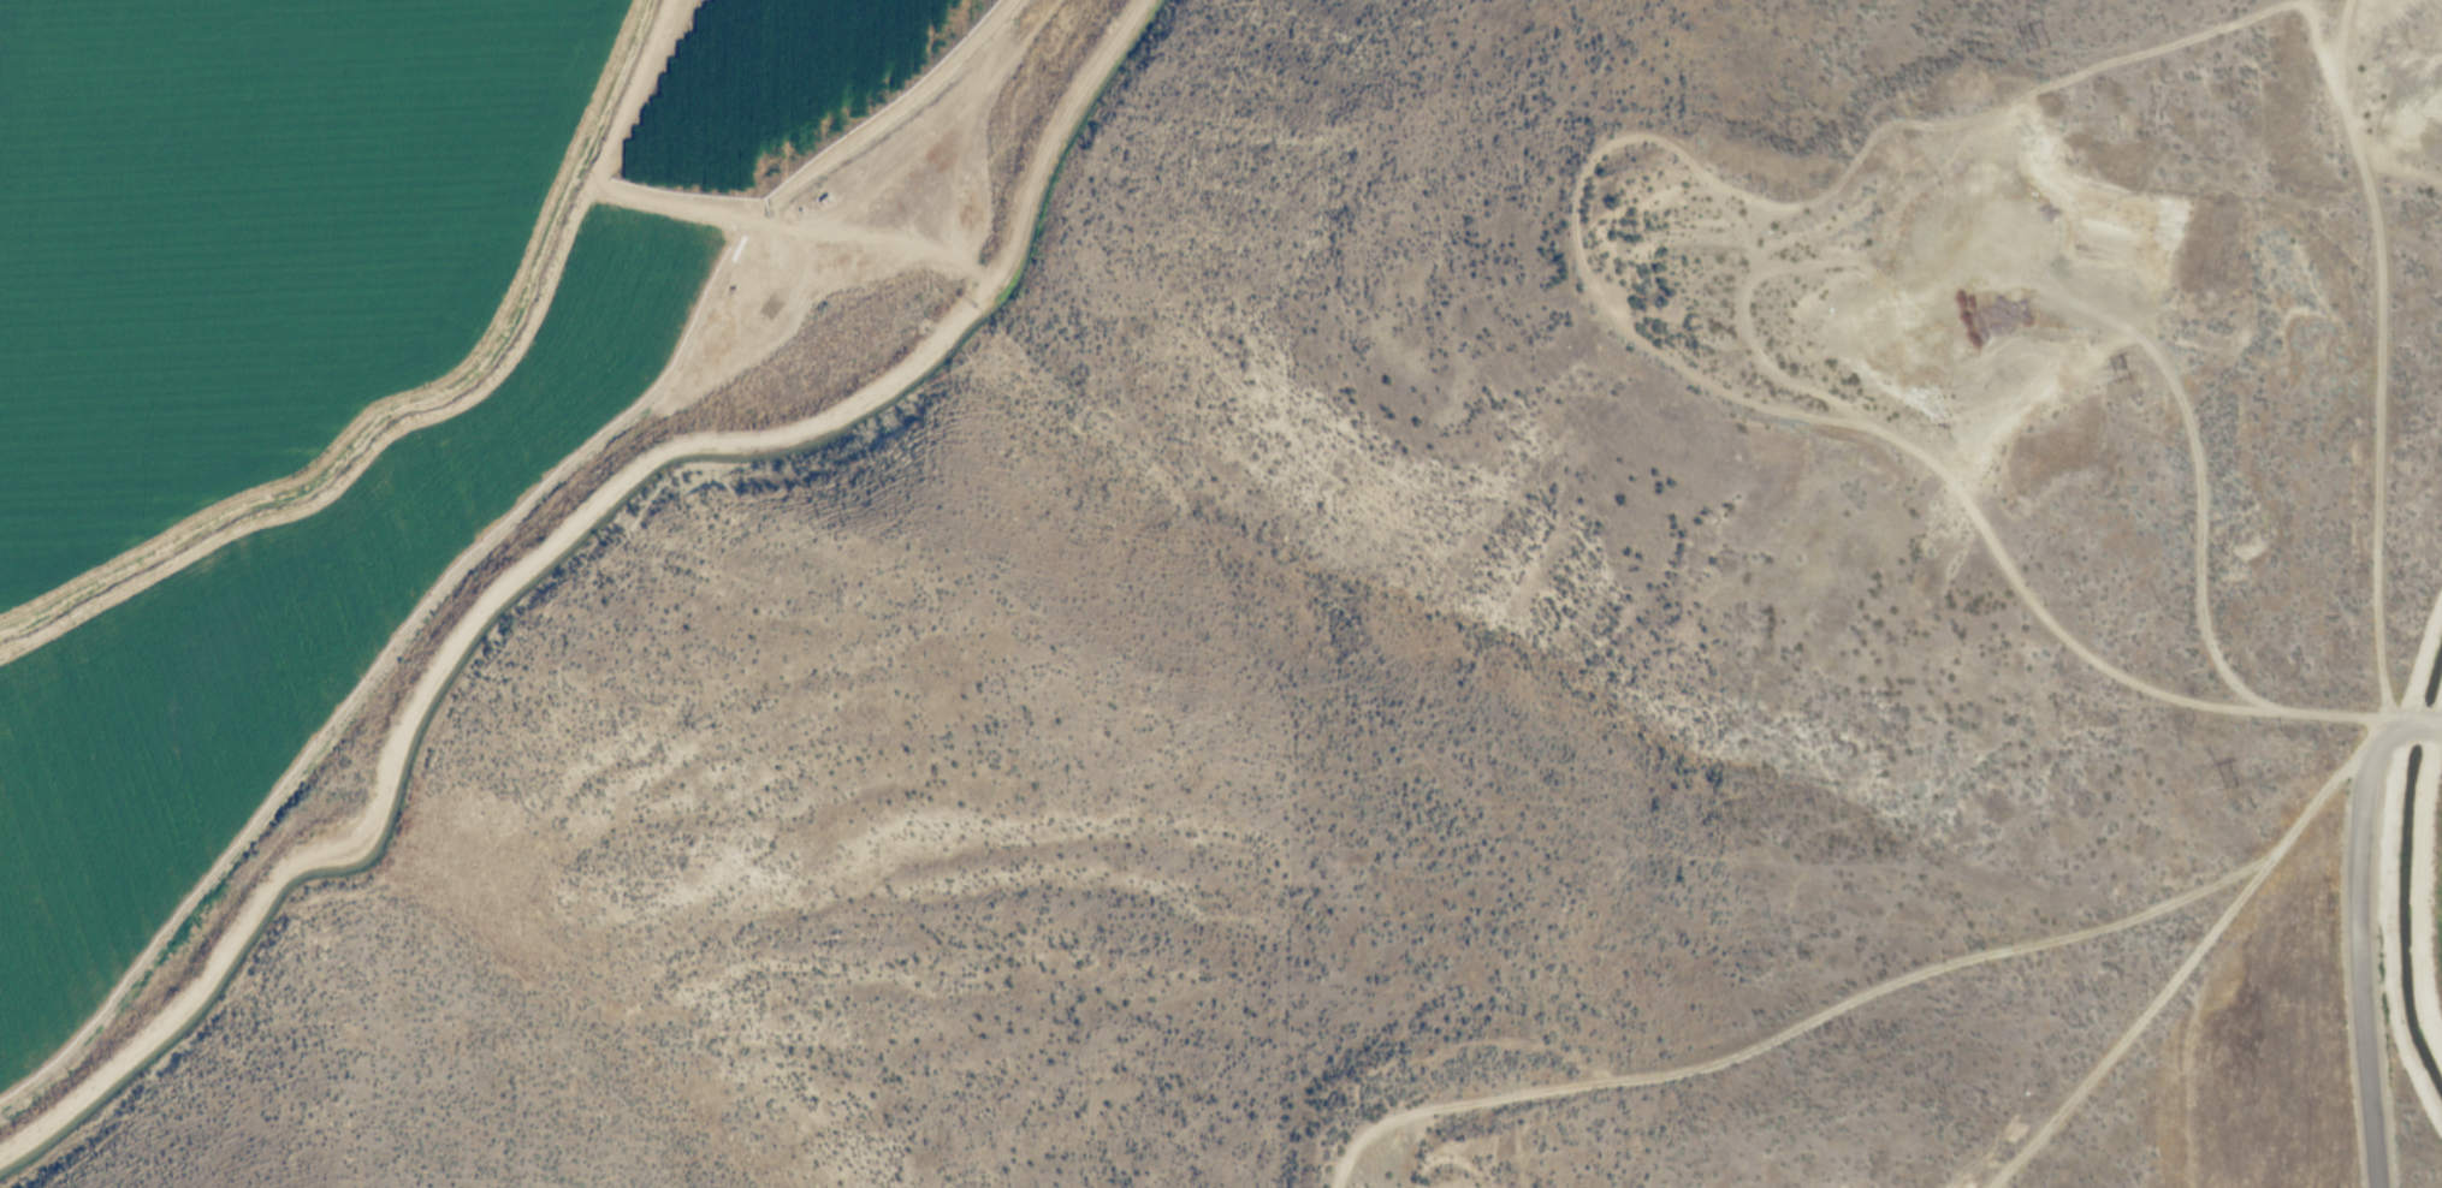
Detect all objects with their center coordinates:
power tower: (2034, 47)
power tower: (2130, 376)
road: (2419, 720)
power tower: (2237, 789)
road: (2365, 949)

